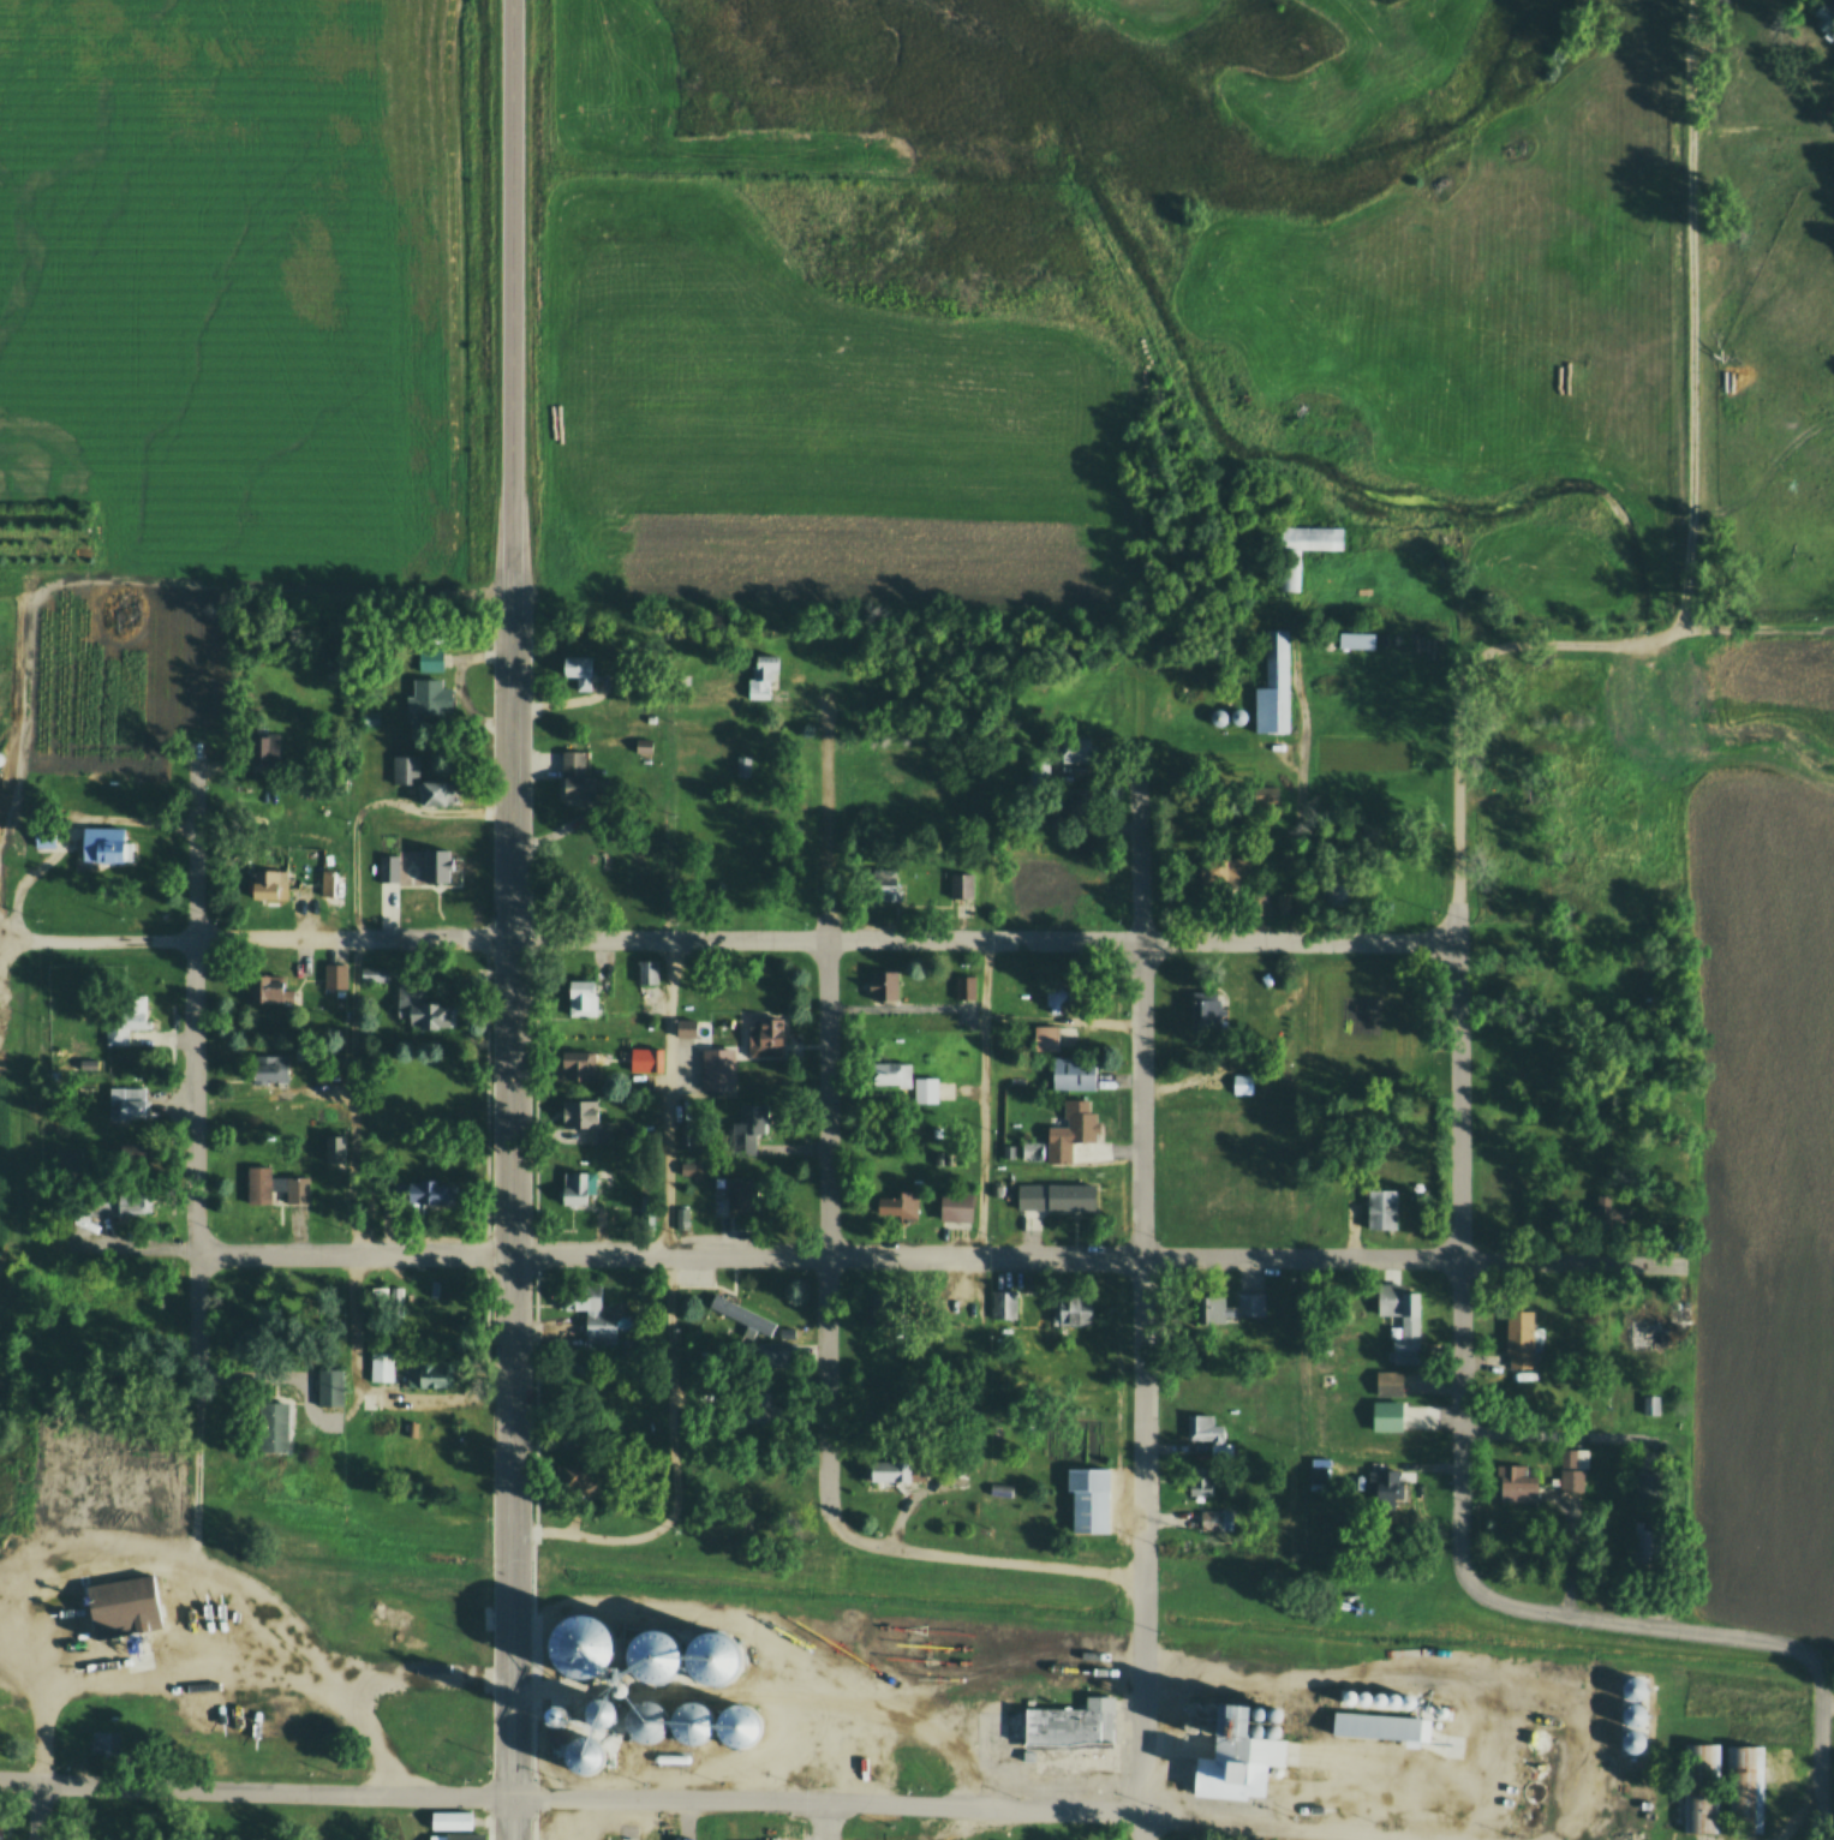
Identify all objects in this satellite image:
building: (1824, 17)
road: (515, 300)
road: (1691, 404)
building: (1286, 572)
road: (148, 583)
building: (1355, 640)
building: (578, 668)
building: (761, 671)
building: (428, 687)
building: (1272, 688)
building: (1218, 717)
silo: (1218, 717)
building: (1237, 717)
silo: (1237, 717)
building: (265, 747)
building: (641, 747)
building: (1070, 751)
building: (1500, 754)
building: (1, 758)
silo: (1, 758)
building: (742, 766)
building: (877, 770)
building: (1038, 771)
building: (577, 776)
building: (423, 782)
building: (43, 838)
building: (106, 846)
building: (438, 866)
building: (395, 870)
building: (1211, 872)
building: (1081, 878)
building: (883, 880)
building: (268, 882)
building: (330, 882)
building: (961, 885)
building: (1334, 885)
building: (1284, 902)
building: (1257, 903)
road: (10, 936)
road: (826, 939)
road: (107, 942)
road: (2, 949)
building: (649, 972)
building: (375, 974)
building: (335, 976)
building: (883, 985)
building: (963, 987)
building: (269, 988)
building: (1058, 994)
building: (581, 997)
building: (422, 1006)
building: (1207, 1014)
building: (130, 1018)
building: (687, 1026)
building: (766, 1037)
building: (1045, 1038)
building: (644, 1061)
building: (581, 1063)
building: (268, 1070)
building: (718, 1070)
building: (1073, 1074)
building: (903, 1080)
building: (1243, 1083)
road: (985, 1098)
building: (126, 1104)
road: (1459, 1111)
building: (584, 1118)
building: (749, 1127)
building: (1070, 1130)
road: (195, 1146)
building: (334, 1146)
building: (1029, 1151)
building: (67, 1164)
building: (118, 1164)
building: (689, 1169)
road: (353, 1170)
building: (274, 1185)
building: (575, 1191)
building: (430, 1193)
building: (743, 1194)
building: (1057, 1195)
building: (115, 1201)
building: (898, 1203)
building: (954, 1206)
building: (1380, 1207)
building: (685, 1218)
road: (512, 1219)
building: (1609, 1219)
road: (924, 1255)
road: (826, 1263)
road: (1142, 1297)
building: (388, 1300)
building: (1003, 1304)
building: (1229, 1307)
building: (1073, 1308)
building: (590, 1309)
building: (879, 1310)
road: (669, 1313)
building: (741, 1316)
building: (1403, 1319)
building: (1647, 1333)
building: (1521, 1339)
building: (783, 1356)
building: (382, 1364)
building: (430, 1370)
building: (328, 1386)
building: (1386, 1402)
building: (1649, 1404)
building: (757, 1409)
building: (275, 1426)
building: (1203, 1427)
building: (570, 1438)
building: (1573, 1469)
building: (891, 1472)
building: (574, 1477)
building: (1200, 1480)
building: (1320, 1480)
building: (1644, 1486)
building: (1516, 1487)
building: (998, 1489)
building: (1385, 1490)
building: (1088, 1498)
road: (536, 1525)
building: (1217, 1525)
building: (1643, 1542)
building: (123, 1605)
road: (1644, 1626)
building: (580, 1645)
silo: (580, 1645)
building: (651, 1649)
silo: (651, 1649)
building: (712, 1650)
silo: (712, 1650)
road: (246, 1661)
building: (731, 1677)
road: (431, 1681)
building: (1633, 1686)
silo: (1633, 1686)
building: (1345, 1697)
silo: (1345, 1697)
building: (1361, 1698)
silo: (1361, 1698)
building: (1378, 1699)
silo: (1378, 1699)
building: (1392, 1701)
silo: (1392, 1701)
building: (1409, 1701)
silo: (1409, 1701)
road: (1827, 1701)
road: (363, 1705)
building: (1187, 1705)
silo: (1187, 1705)
building: (1203, 1707)
silo: (1203, 1707)
building: (1255, 1709)
silo: (1255, 1709)
building: (1272, 1709)
silo: (1272, 1709)
building: (599, 1710)
silo: (599, 1710)
building: (1631, 1714)
silo: (1631, 1714)
building: (644, 1720)
silo: (644, 1720)
building: (693, 1720)
silo: (693, 1720)
building: (737, 1722)
silo: (737, 1722)
building: (1069, 1723)
building: (1187, 1723)
silo: (1187, 1723)
building: (1380, 1723)
building: (1202, 1726)
silo: (1202, 1726)
building: (1254, 1727)
silo: (1254, 1727)
building: (1271, 1727)
silo: (1271, 1727)
building: (1536, 1739)
silo: (1536, 1739)
road: (41, 1740)
building: (1631, 1742)
silo: (1631, 1742)
building: (104, 1745)
building: (844, 1746)
silo: (844, 1746)
building: (865, 1748)
silo: (865, 1748)
road: (1820, 1754)
building: (583, 1755)
silo: (583, 1755)
building: (811, 1755)
silo: (811, 1755)
building: (1232, 1757)
building: (1535, 1766)
silo: (1535, 1766)
building: (843, 1768)
silo: (843, 1768)
building: (864, 1768)
silo: (864, 1768)
building: (1701, 1788)
building: (1744, 1790)
building: (1533, 1791)
silo: (1533, 1791)
road: (713, 1800)
road: (40, 1812)
building: (1530, 1815)
silo: (1530, 1815)
road: (490, 1818)
road: (534, 1818)
building: (450, 1820)
road: (826, 1821)
building: (2, 1833)
building: (458, 1836)
building: (688, 1839)

